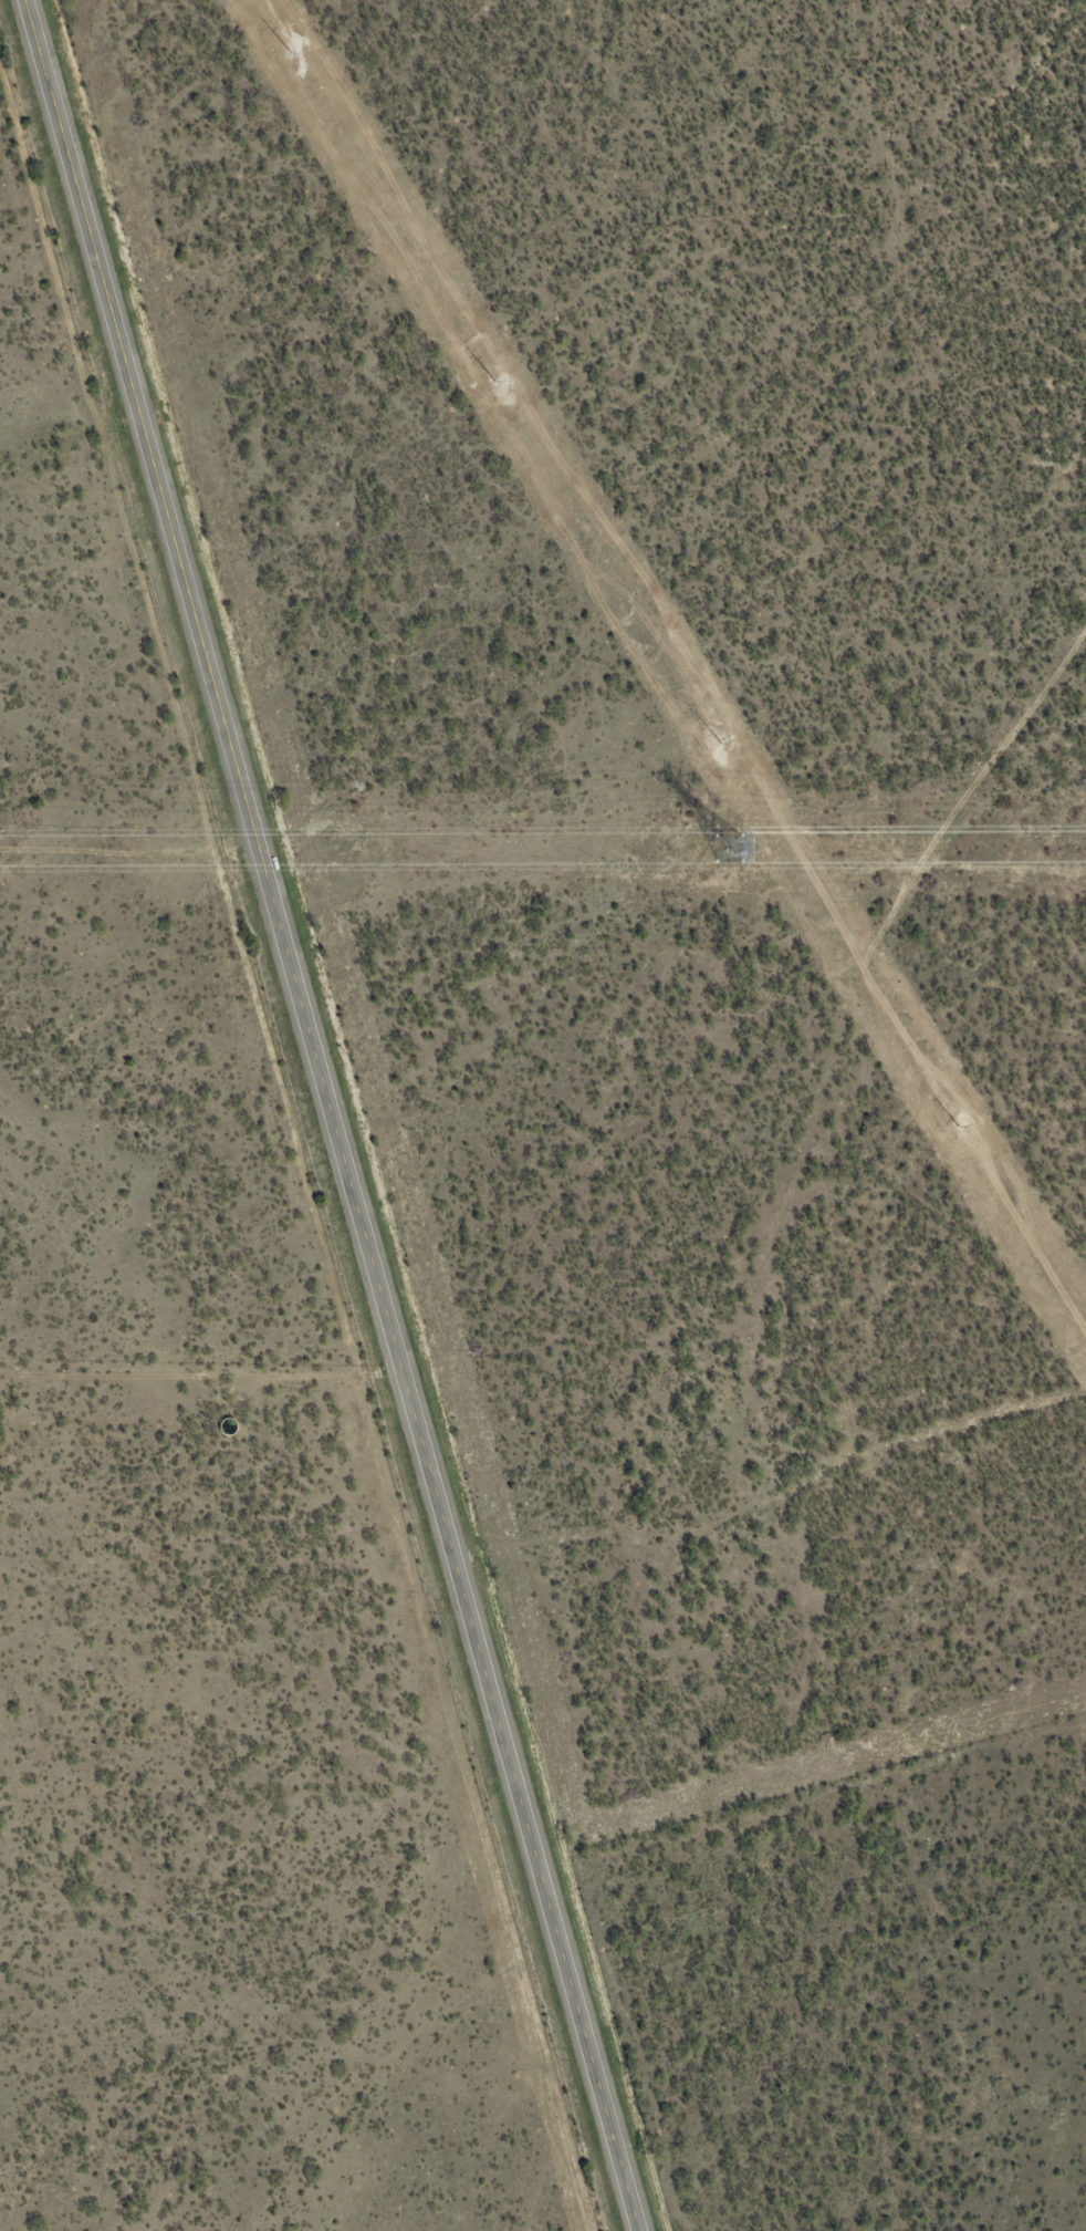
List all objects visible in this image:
power tower: (471, 344)
power tower: (718, 744)
power tower: (728, 849)
road: (790, 1049)
road: (334, 1114)
power tower: (961, 1131)
road: (875, 1478)
road: (355, 2065)

